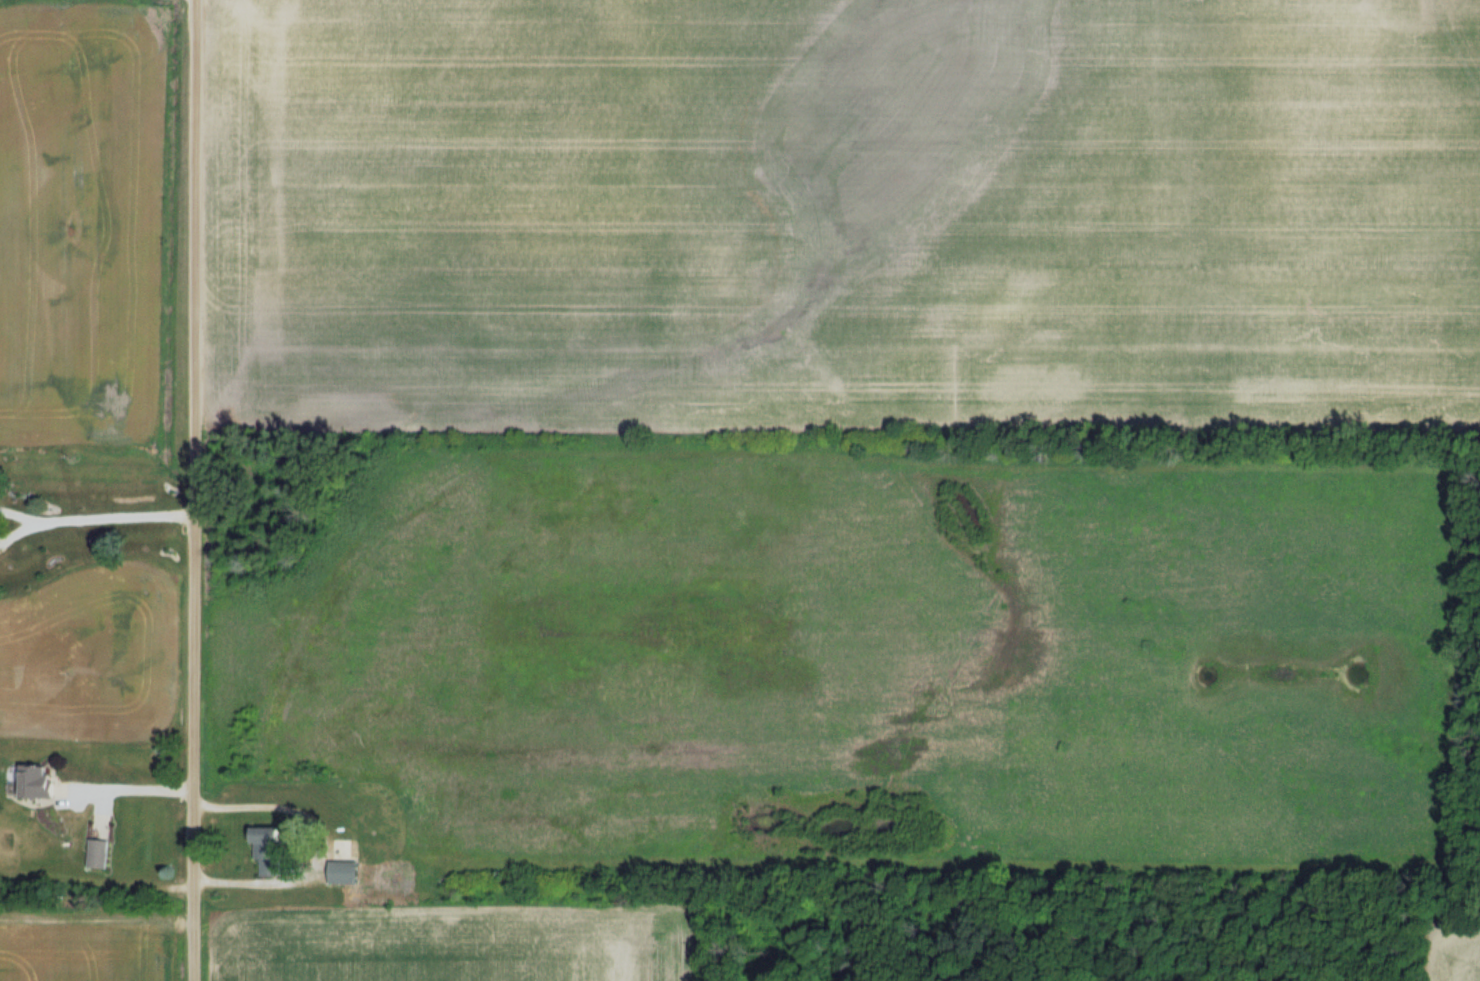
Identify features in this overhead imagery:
road: (192, 490)
road: (14, 515)
road: (110, 518)
road: (14, 530)
building: (37, 781)
road: (129, 788)
building: (269, 833)
building: (97, 853)
building: (341, 862)

